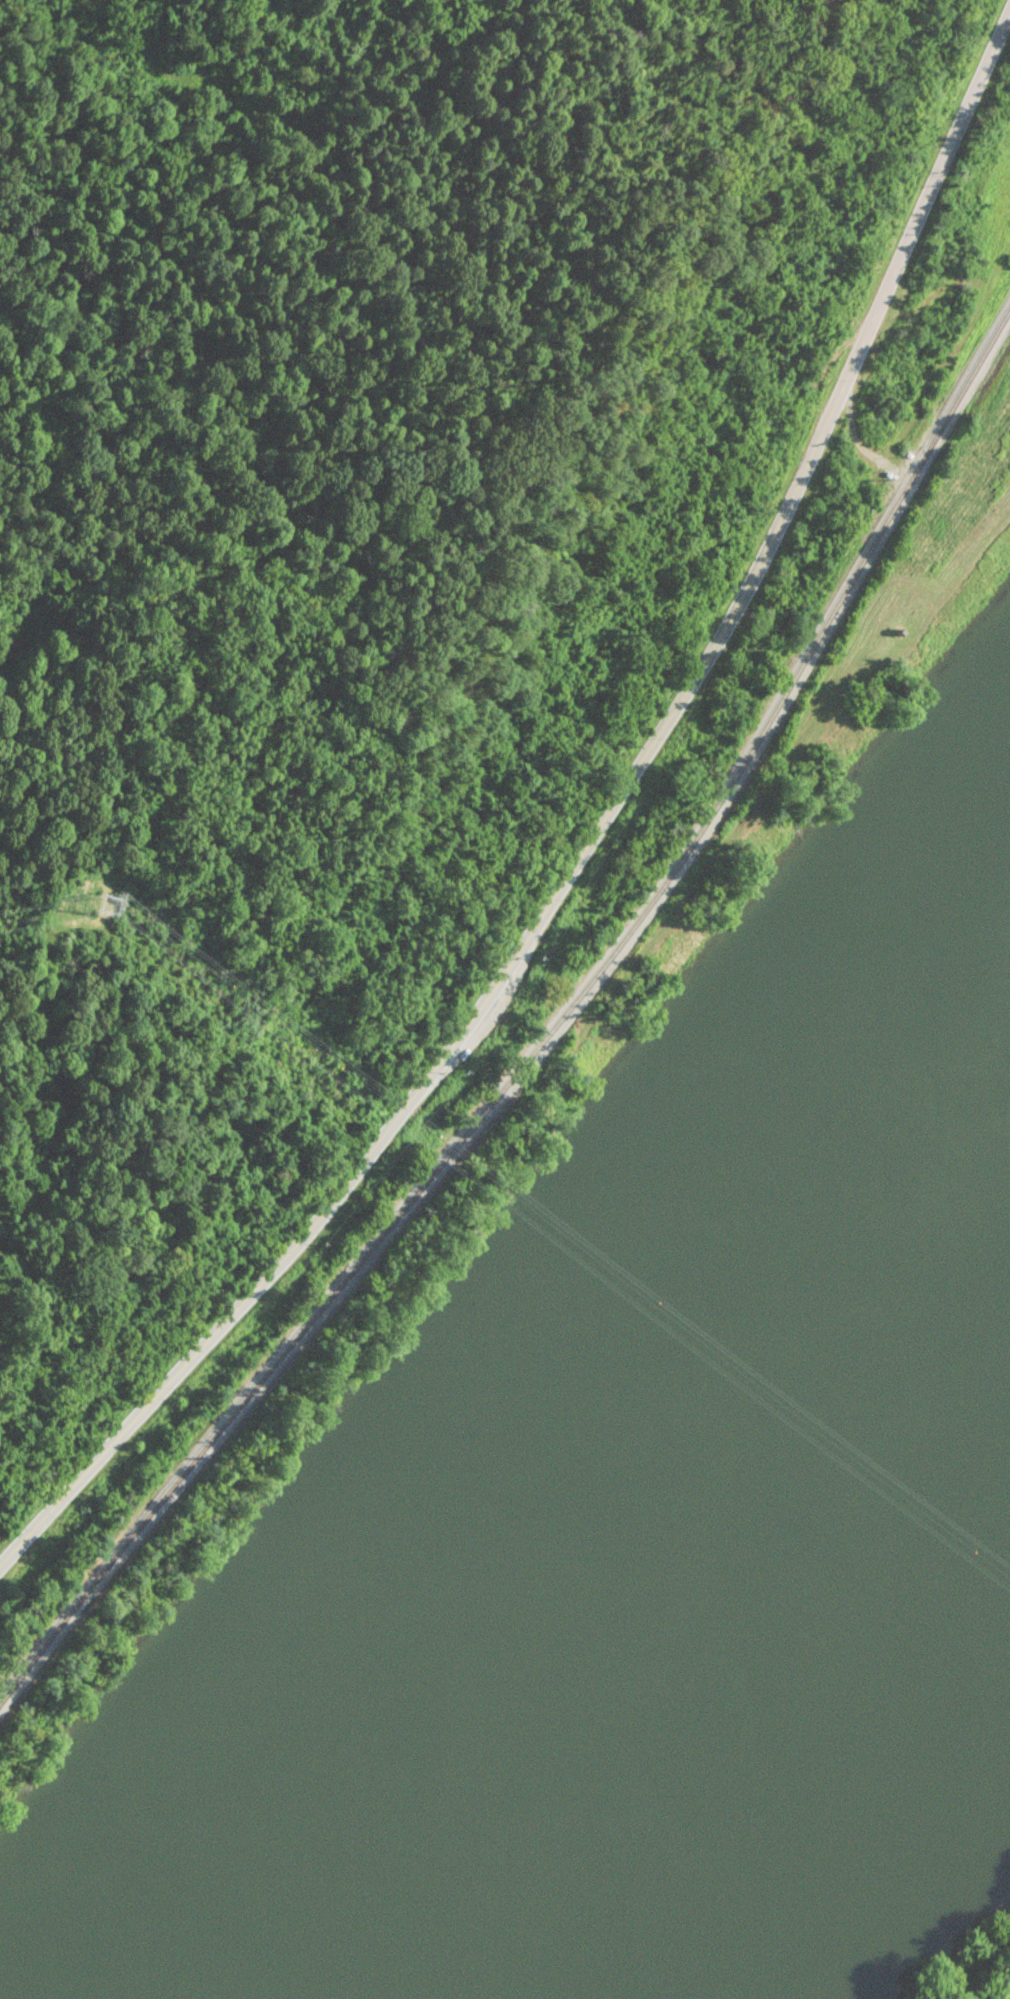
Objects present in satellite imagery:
road: (589, 837)
power tower: (107, 909)
railway: (546, 1038)
river: (959, 1211)
river: (959, 1332)
river: (607, 1688)
crop: (978, 1967)

